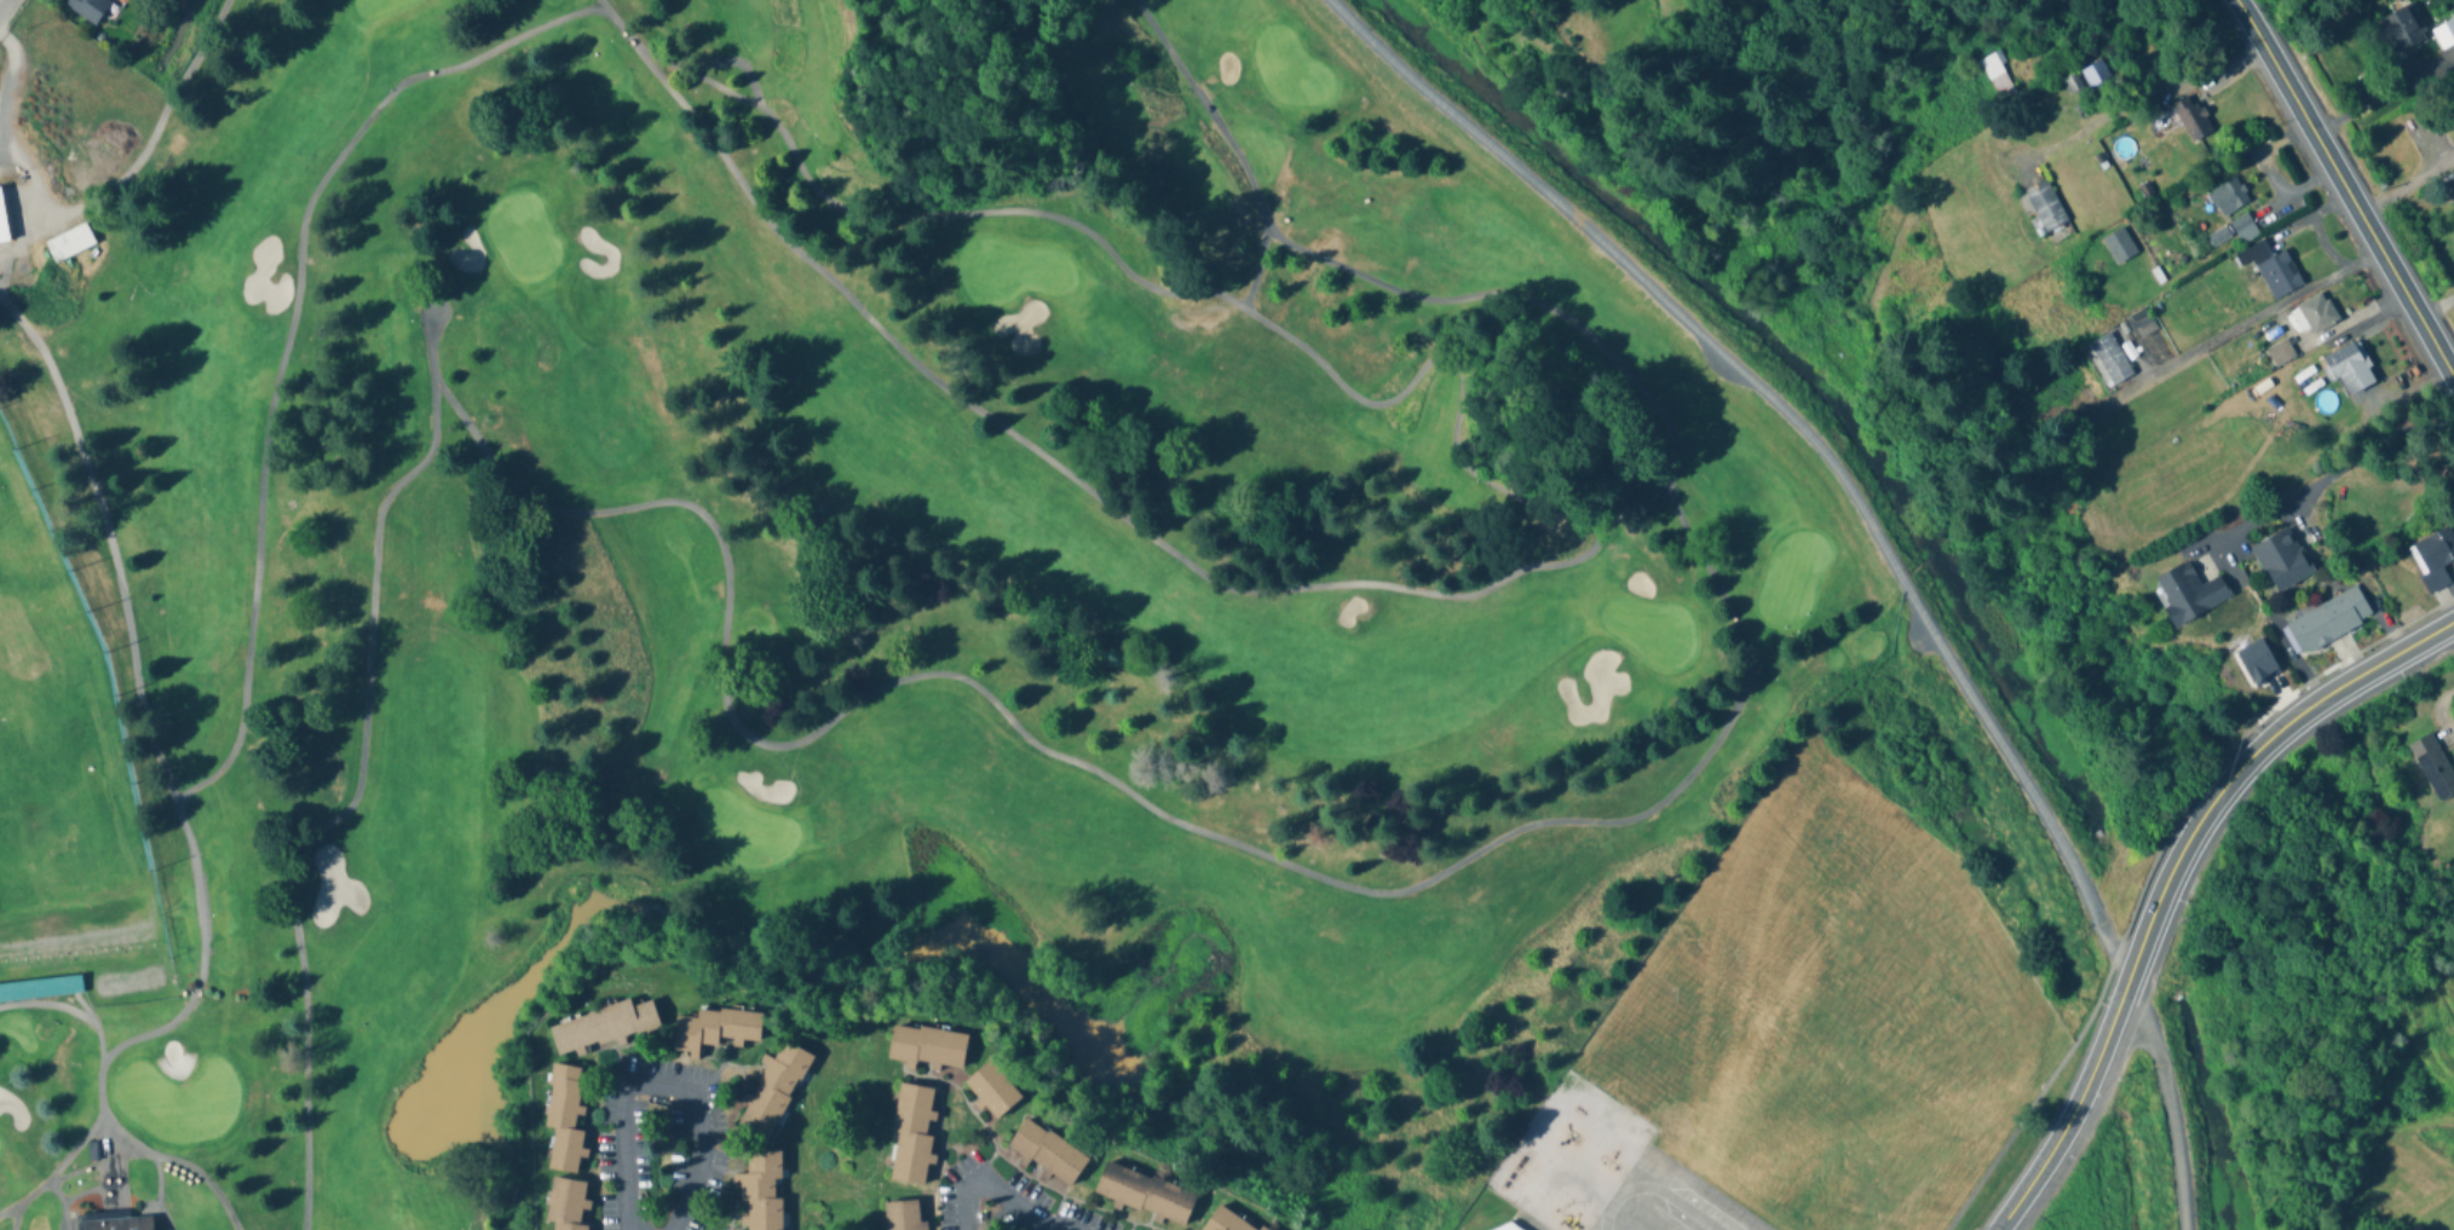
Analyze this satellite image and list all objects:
road: (2, 4)
building: (88, 6)
building: (2401, 29)
building: (2444, 34)
road: (738, 65)
building: (2095, 74)
building: (1995, 76)
road: (2383, 92)
road: (2136, 97)
building: (2191, 117)
road: (2407, 178)
road: (2345, 184)
building: (2228, 197)
building: (2045, 206)
building: (2, 221)
building: (2243, 227)
building: (69, 239)
building: (2119, 246)
building: (2272, 268)
road: (1254, 273)
road: (433, 305)
road: (2438, 305)
road: (2275, 308)
building: (2314, 312)
building: (2142, 322)
road: (294, 328)
building: (2109, 359)
road: (433, 365)
building: (2348, 368)
road: (1765, 392)
road: (2333, 469)
road: (1596, 544)
building: (2435, 555)
building: (2282, 559)
road: (119, 578)
park: (848, 581)
building: (2196, 589)
building: (2327, 620)
building: (2433, 766)
road: (351, 808)
road: (1463, 862)
road: (2168, 879)
building: (40, 984)
road: (48, 1009)
road: (94, 1024)
building: (725, 1026)
building: (605, 1027)
building: (927, 1047)
road: (2153, 1049)
road: (662, 1084)
building: (992, 1090)
building: (771, 1092)
building: (563, 1101)
road: (123, 1133)
building: (911, 1134)
building: (566, 1148)
building: (1047, 1150)
road: (184, 1162)
road: (57, 1170)
road: (159, 1178)
road: (995, 1189)
road: (83, 1190)
building: (761, 1190)
building: (1142, 1193)
road: (1652, 1194)
building: (566, 1200)
road: (64, 1202)
road: (149, 1205)
road: (15, 1214)
building: (900, 1215)
building: (1229, 1218)
building: (116, 1222)
building: (569, 1226)
road: (1053, 1226)
building: (1505, 1226)

